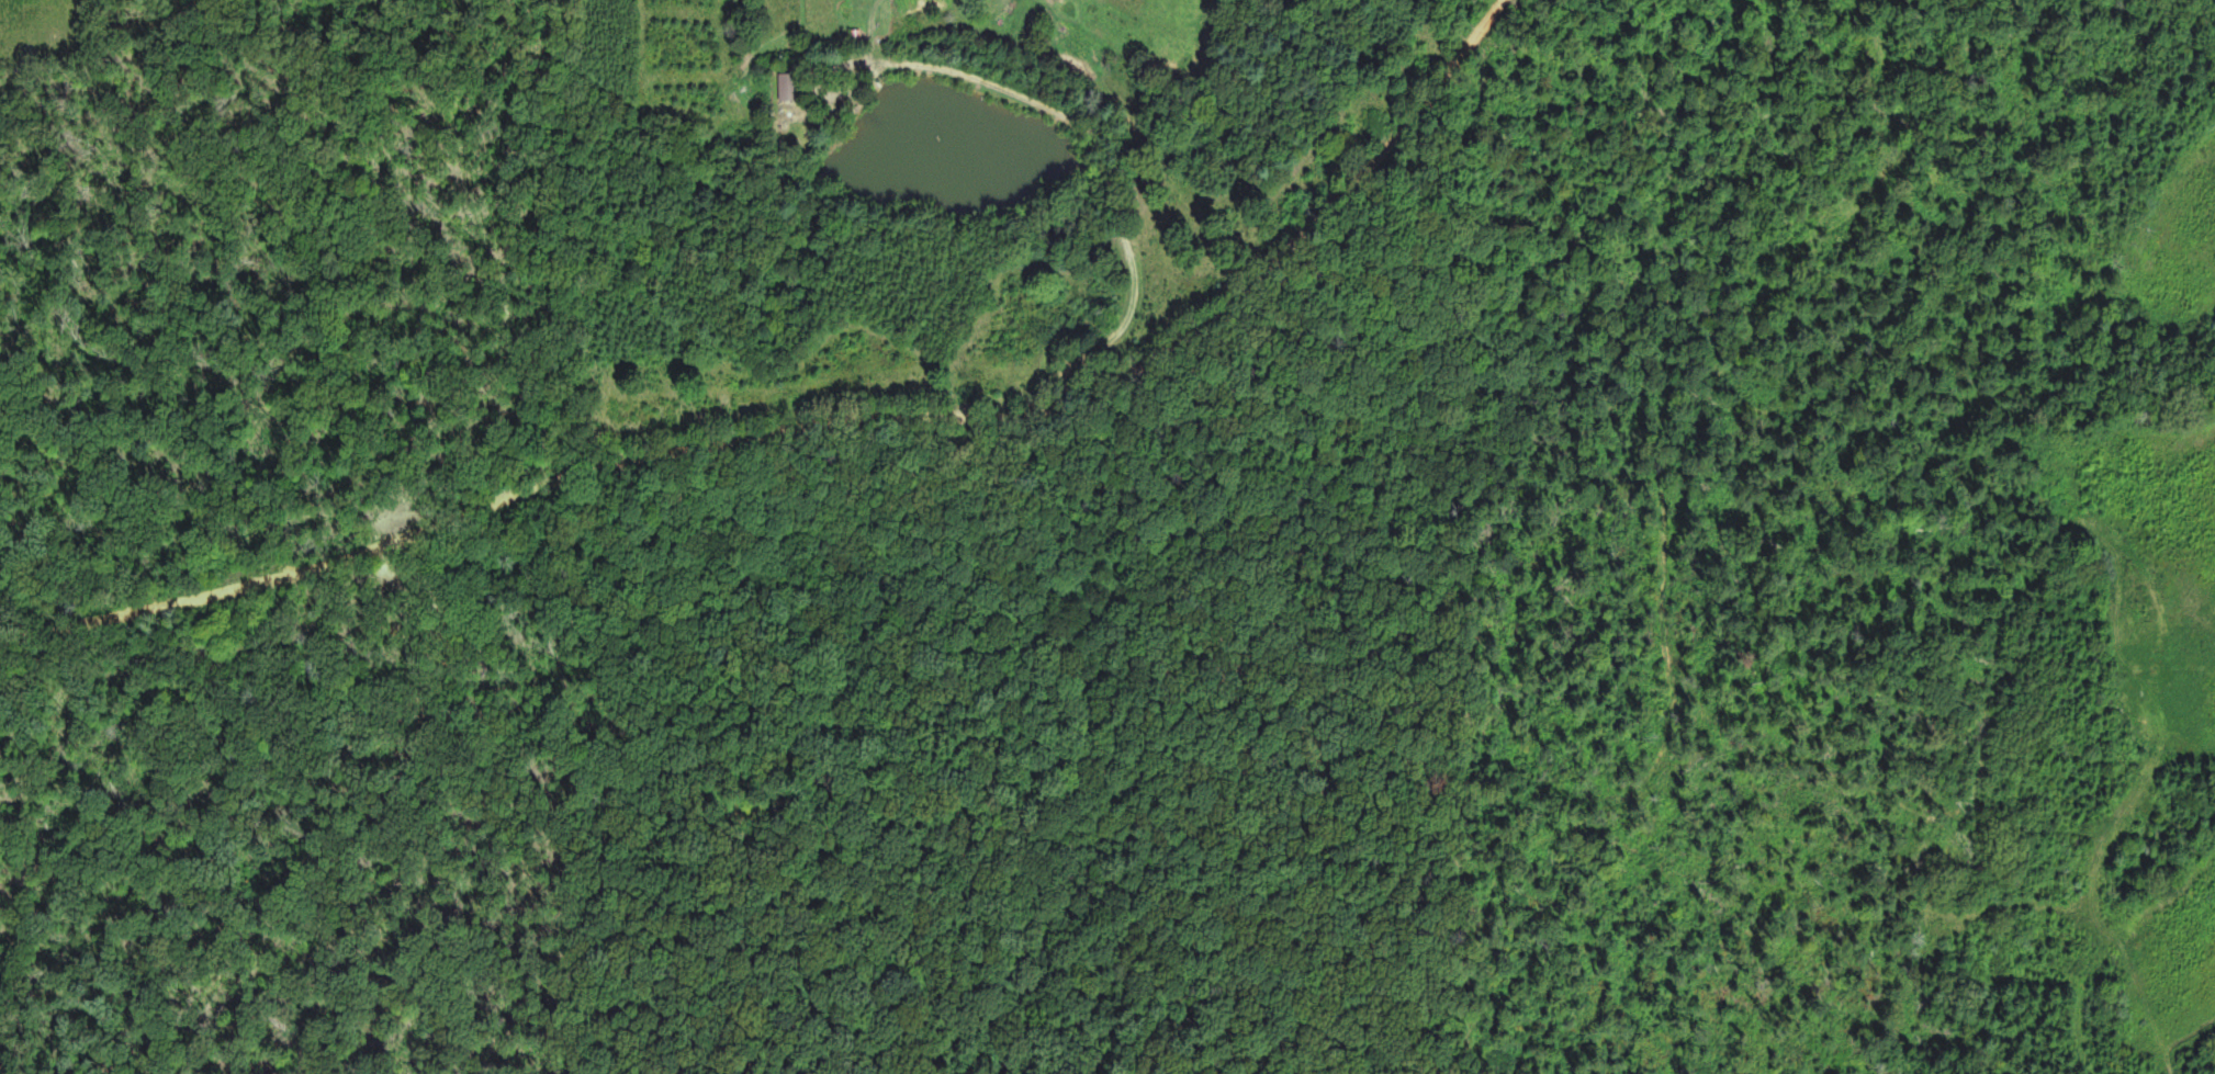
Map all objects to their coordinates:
road: (820, 417)

